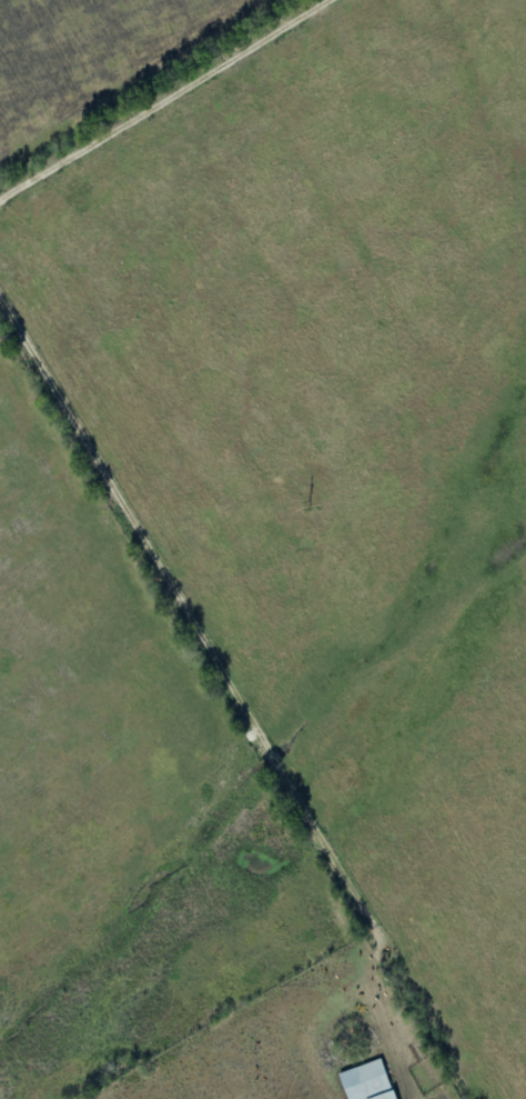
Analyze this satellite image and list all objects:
power tower: (310, 503)
building: (368, 1083)

